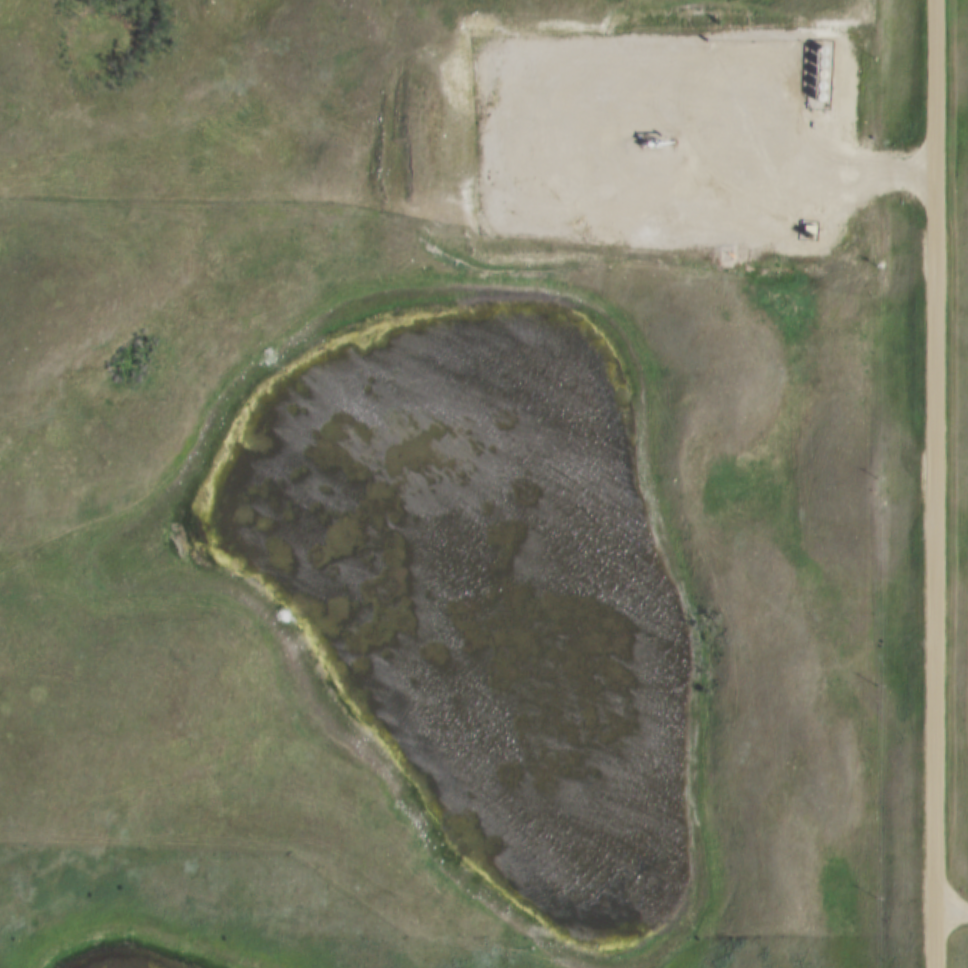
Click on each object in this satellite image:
road: (931, 484)
road: (949, 901)

